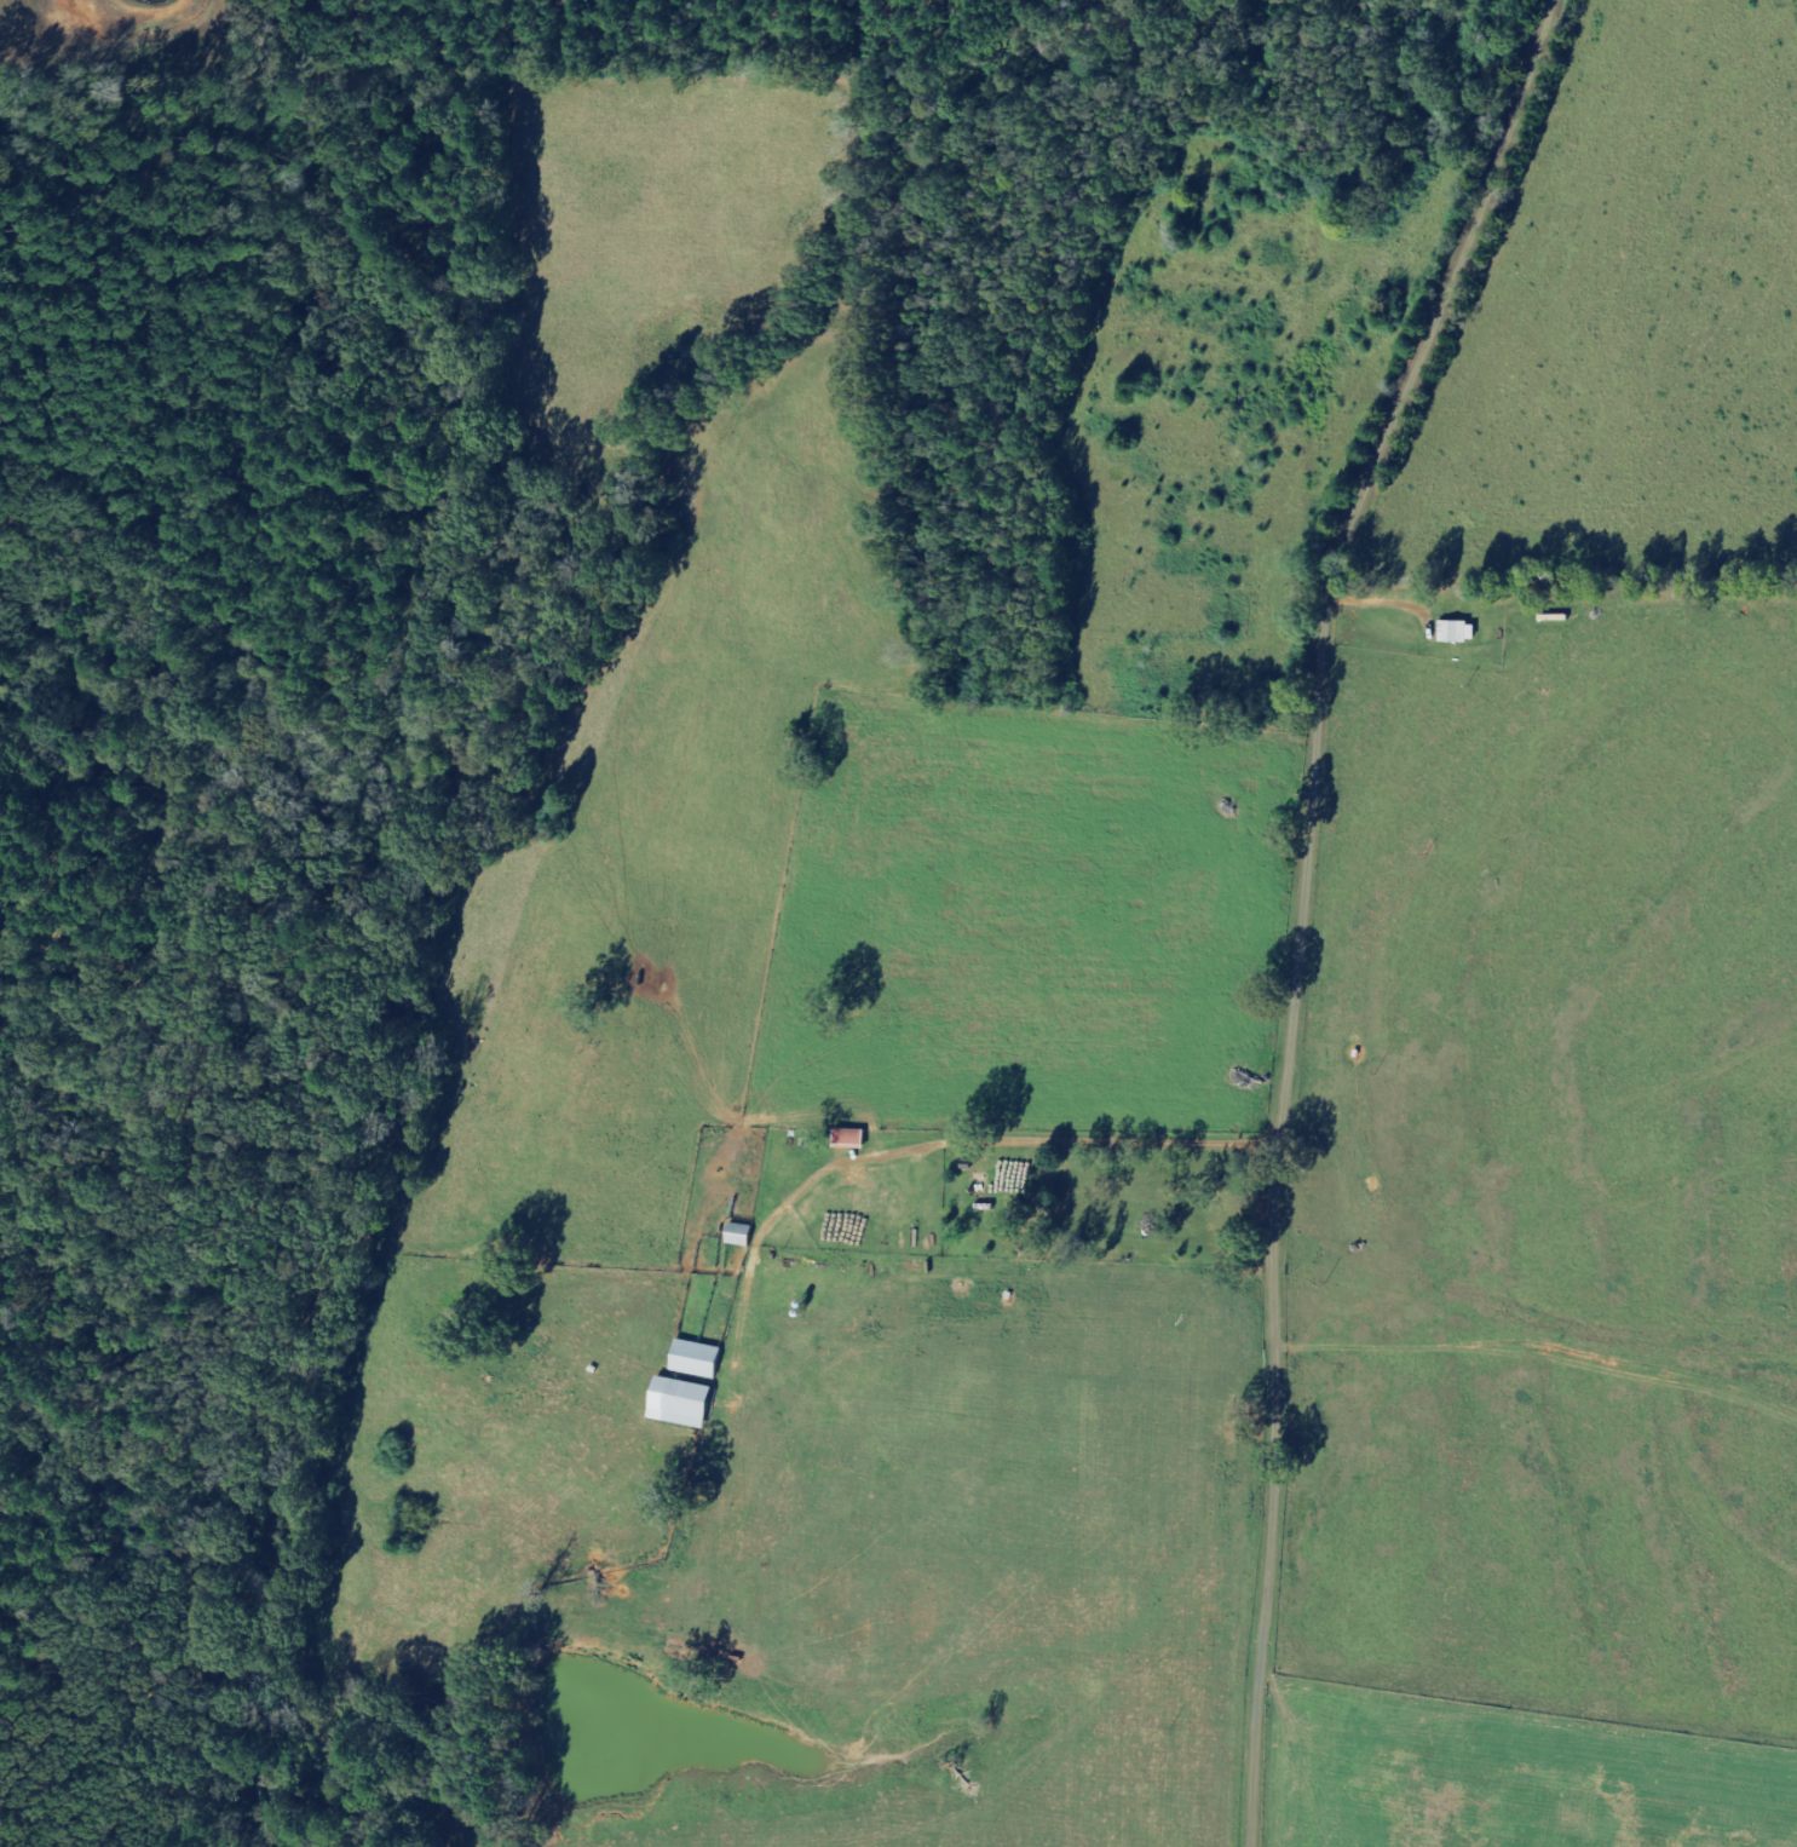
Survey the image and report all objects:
road: (1626, 357)
road: (1301, 897)
building: (854, 1140)
building: (702, 1360)
building: (686, 1404)

